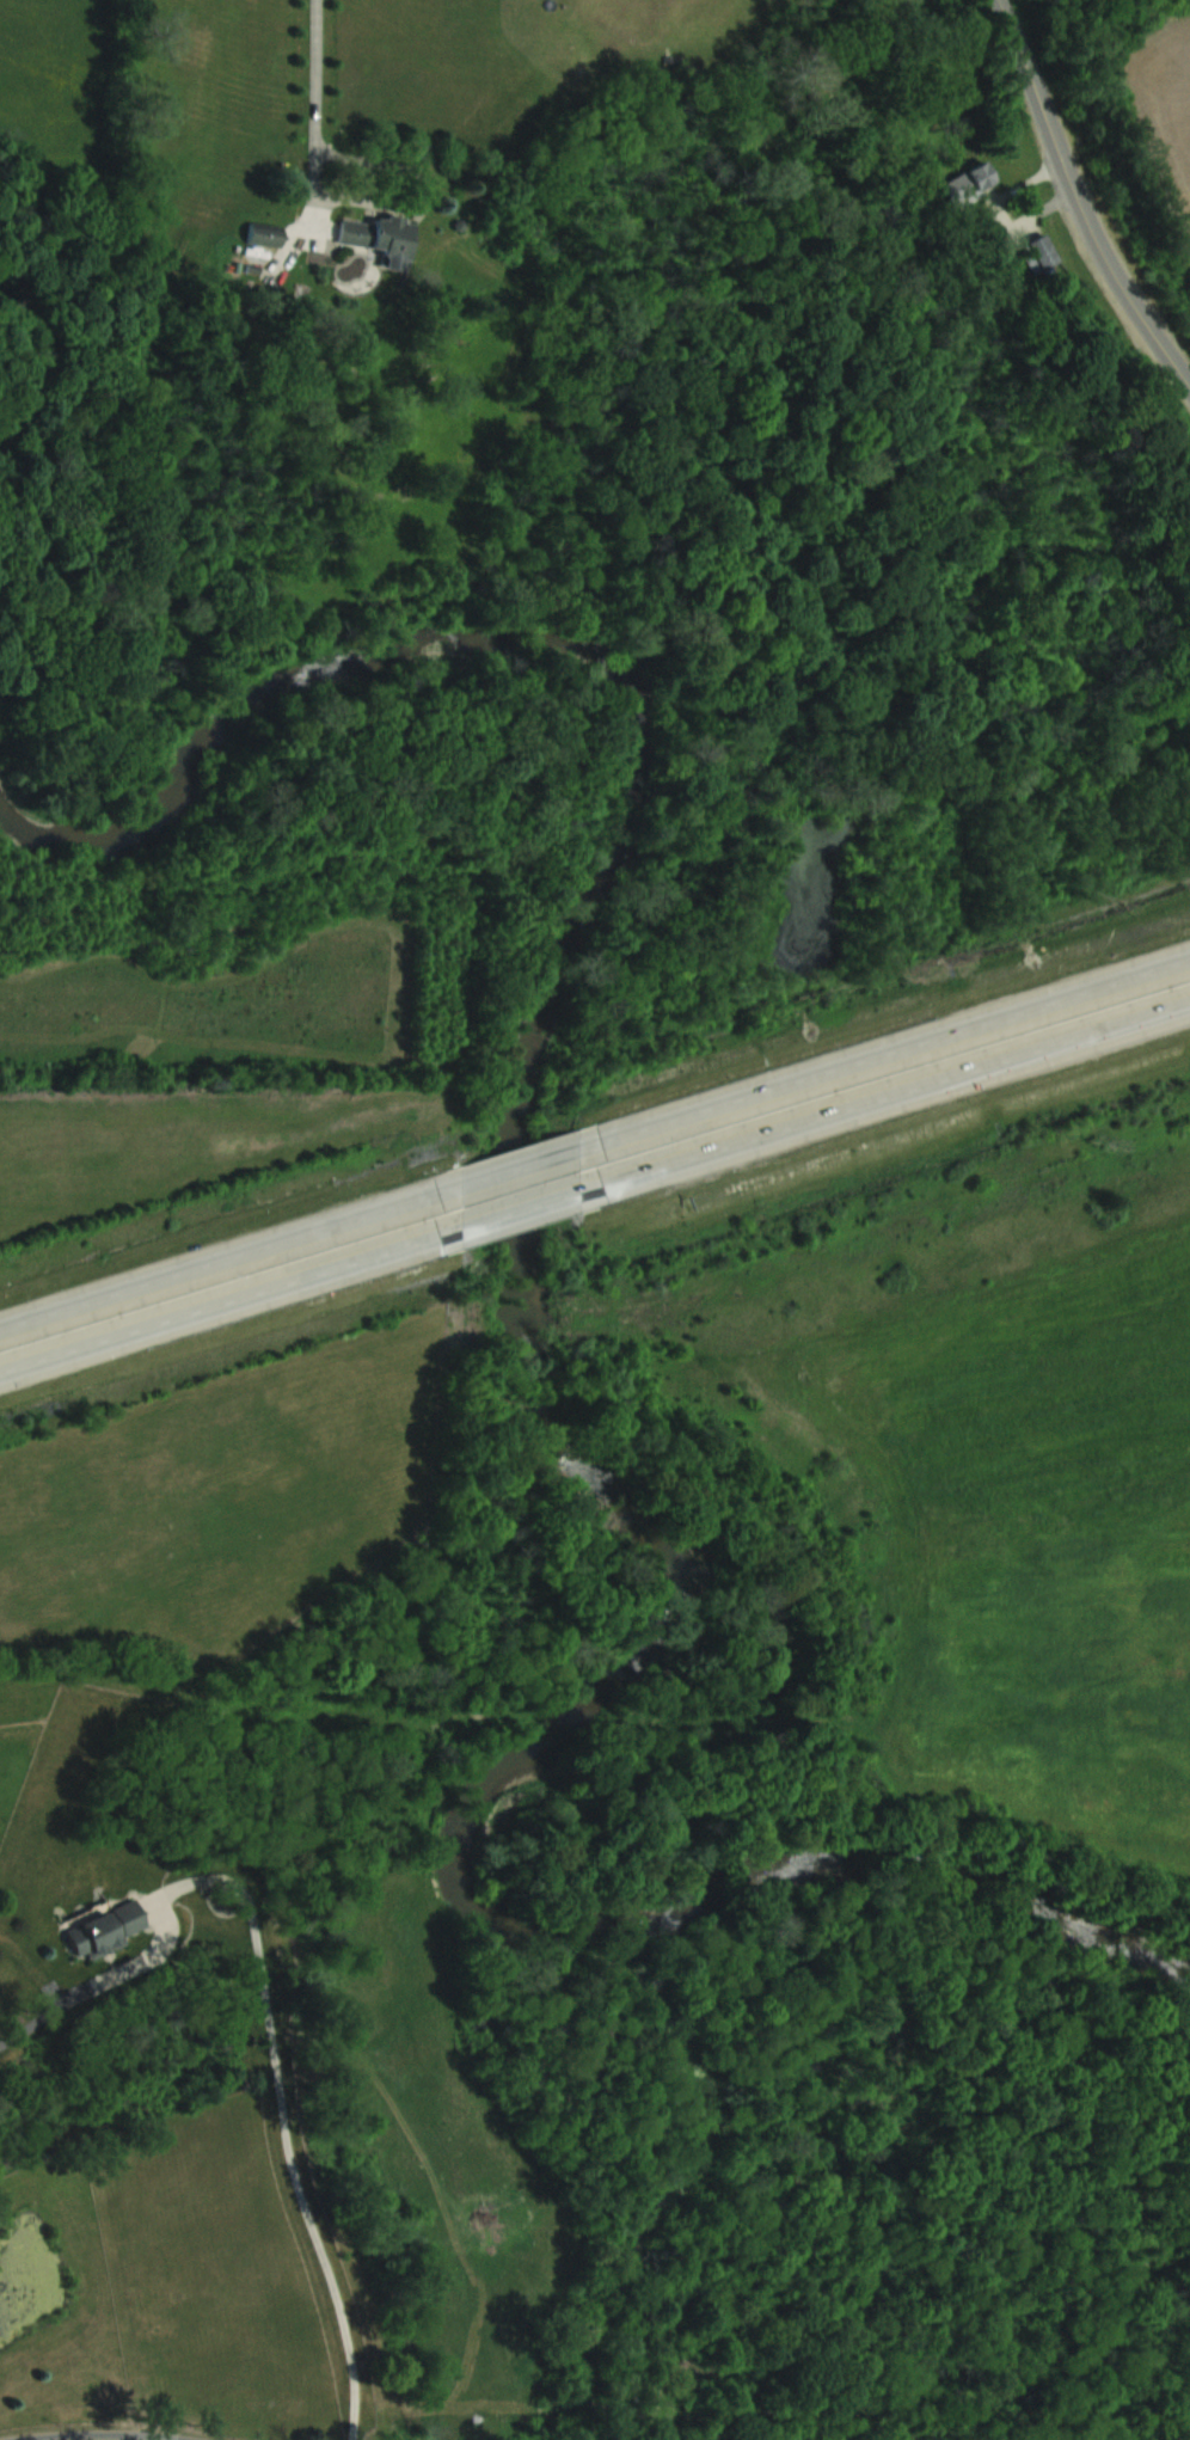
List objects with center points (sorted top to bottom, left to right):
crop: (1164, 88)
road: (315, 102)
building: (965, 183)
road: (1079, 198)
building: (264, 234)
building: (379, 239)
building: (1041, 251)
road: (885, 1055)
road: (885, 1097)
road: (523, 1169)
road: (522, 1210)
road: (232, 1259)
road: (232, 1301)
river: (528, 1367)
building: (103, 1929)
road: (268, 2000)
road: (94, 2439)

